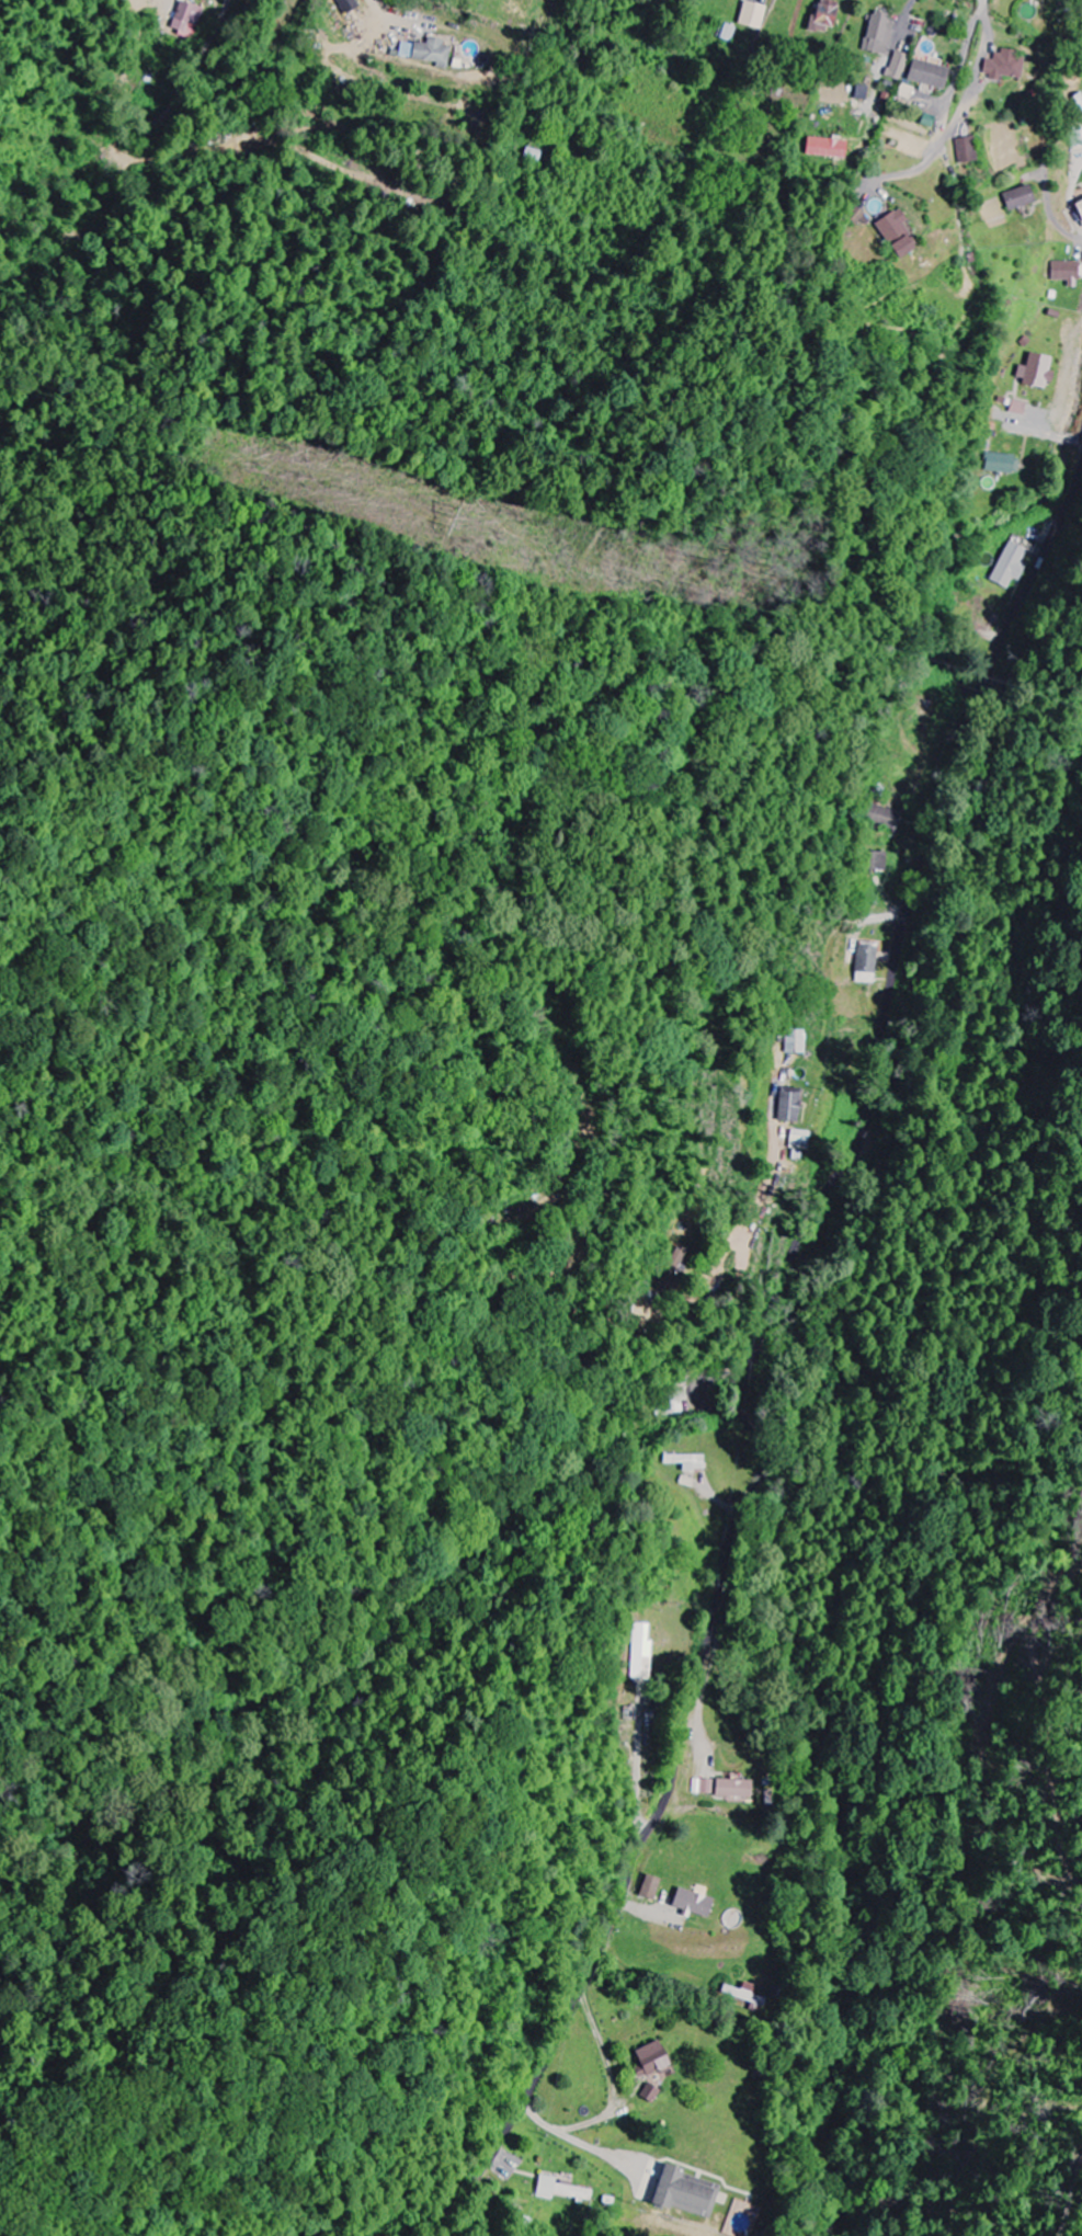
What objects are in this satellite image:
building: (346, 5)
building: (752, 14)
building: (823, 15)
building: (186, 18)
building: (877, 32)
building: (431, 52)
building: (897, 65)
building: (1004, 65)
building: (927, 73)
building: (861, 93)
road: (948, 110)
building: (927, 119)
building: (1075, 139)
building: (825, 147)
building: (967, 149)
building: (534, 156)
building: (1018, 197)
building: (1079, 208)
road: (1063, 231)
building: (898, 235)
building: (1067, 272)
building: (1034, 370)
building: (1017, 407)
road: (1059, 438)
building: (1002, 464)
building: (1010, 566)
building: (884, 817)
building: (877, 860)
building: (866, 961)
building: (796, 1038)
building: (790, 1104)
building: (799, 1140)
building: (677, 1258)
road: (722, 1369)
building: (669, 1406)
building: (685, 1461)
building: (641, 1651)
building: (722, 1788)
building: (650, 1886)
building: (694, 1902)
building: (744, 1994)
building: (650, 2058)
building: (649, 2092)
building: (562, 2190)
building: (684, 2192)

